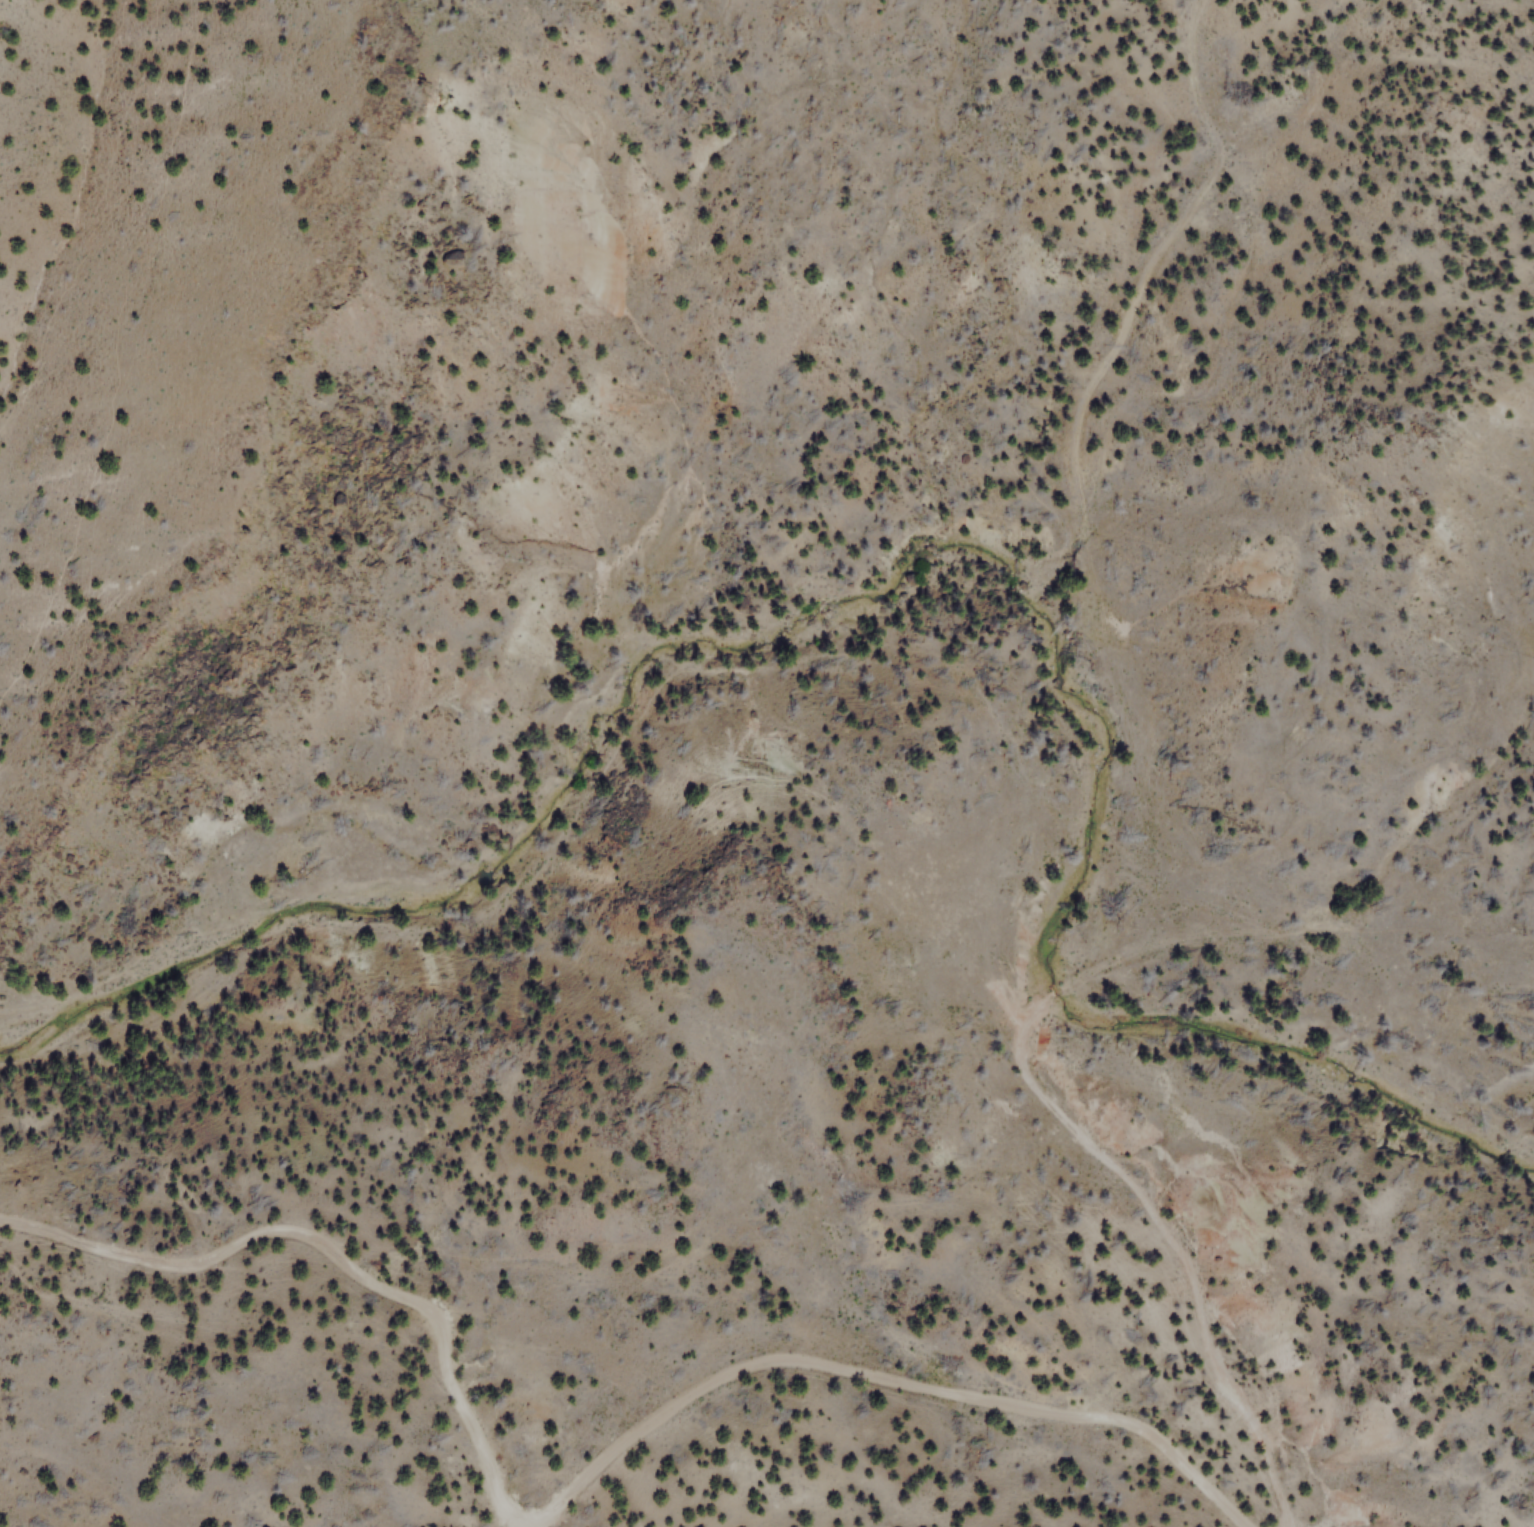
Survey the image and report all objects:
road: (331, 1246)
road: (887, 1352)

